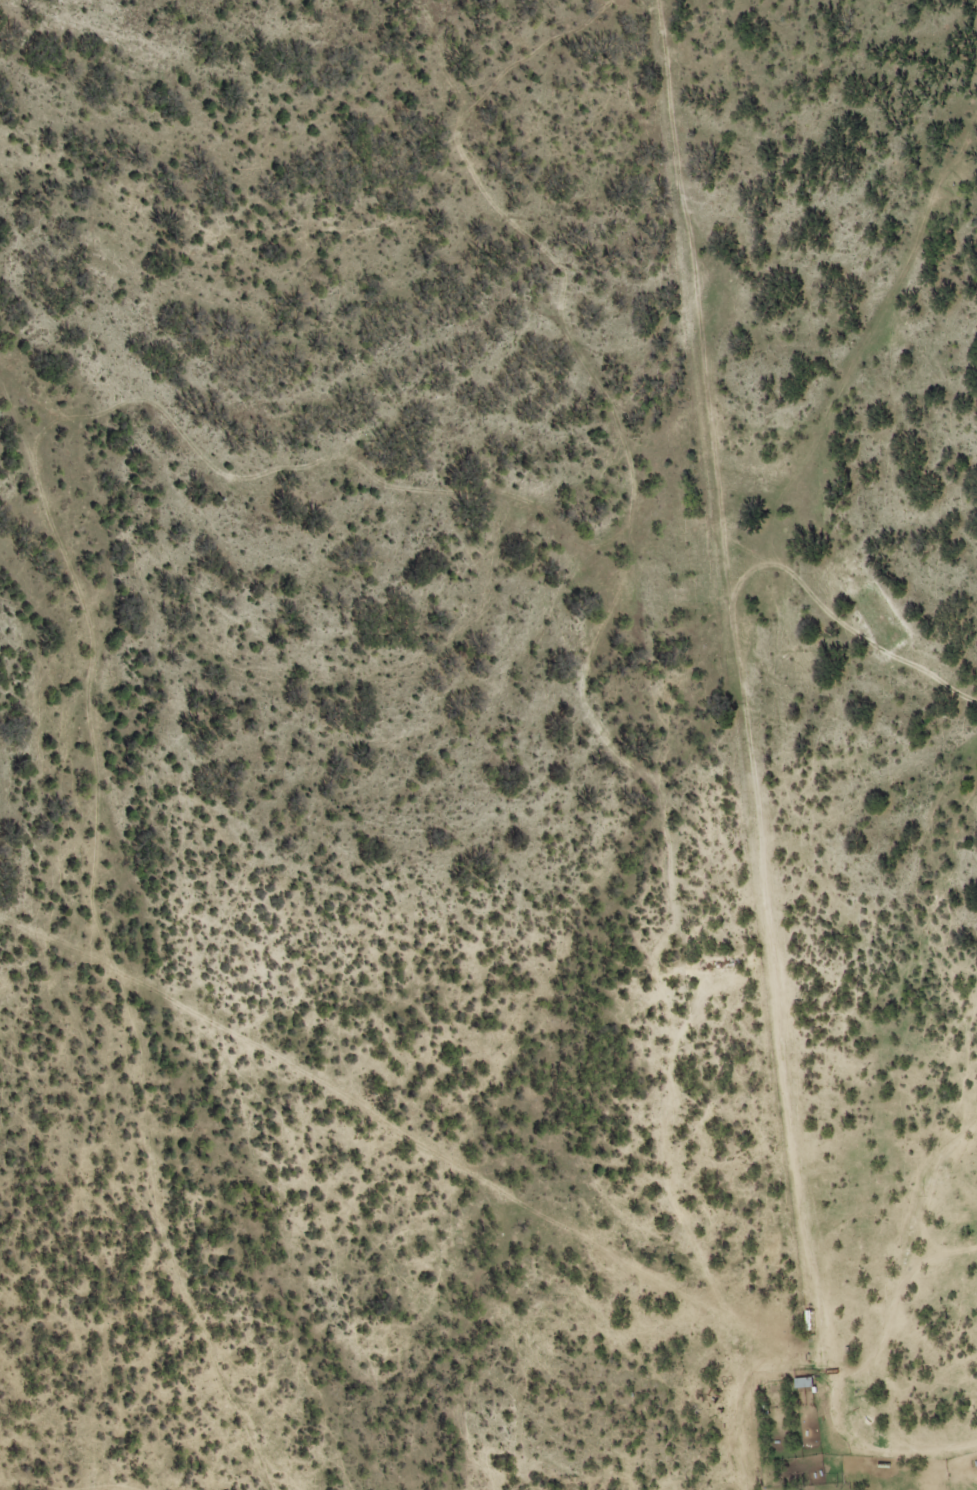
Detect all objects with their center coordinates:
road: (976, 0)
building: (804, 1382)
road: (400, 1417)

